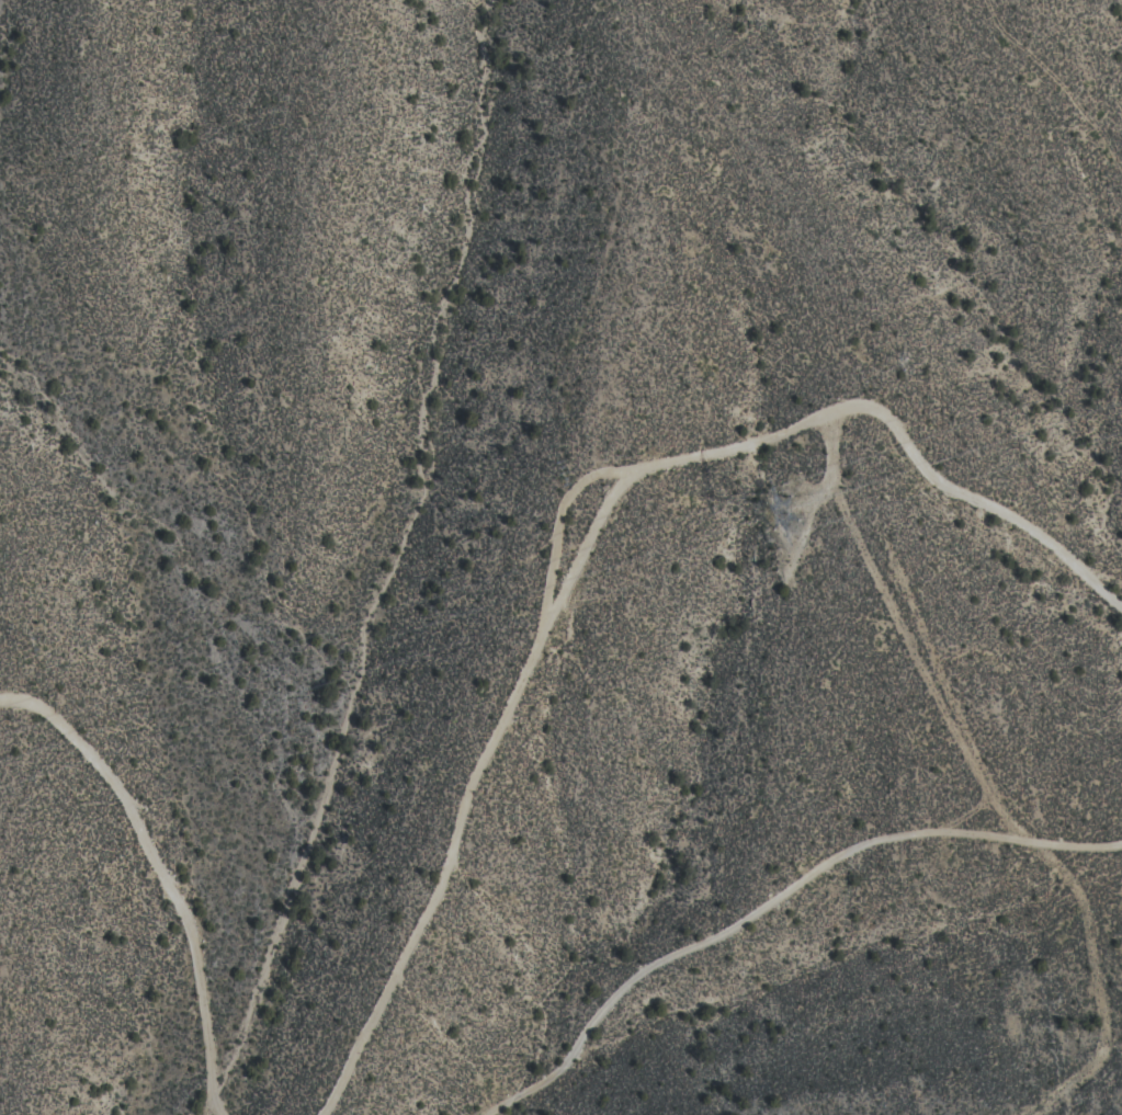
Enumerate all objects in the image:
power tower: (616, 446)
power tower: (796, 507)
road: (591, 530)
power tower: (47, 642)
road: (979, 783)
road: (168, 869)
road: (775, 897)

